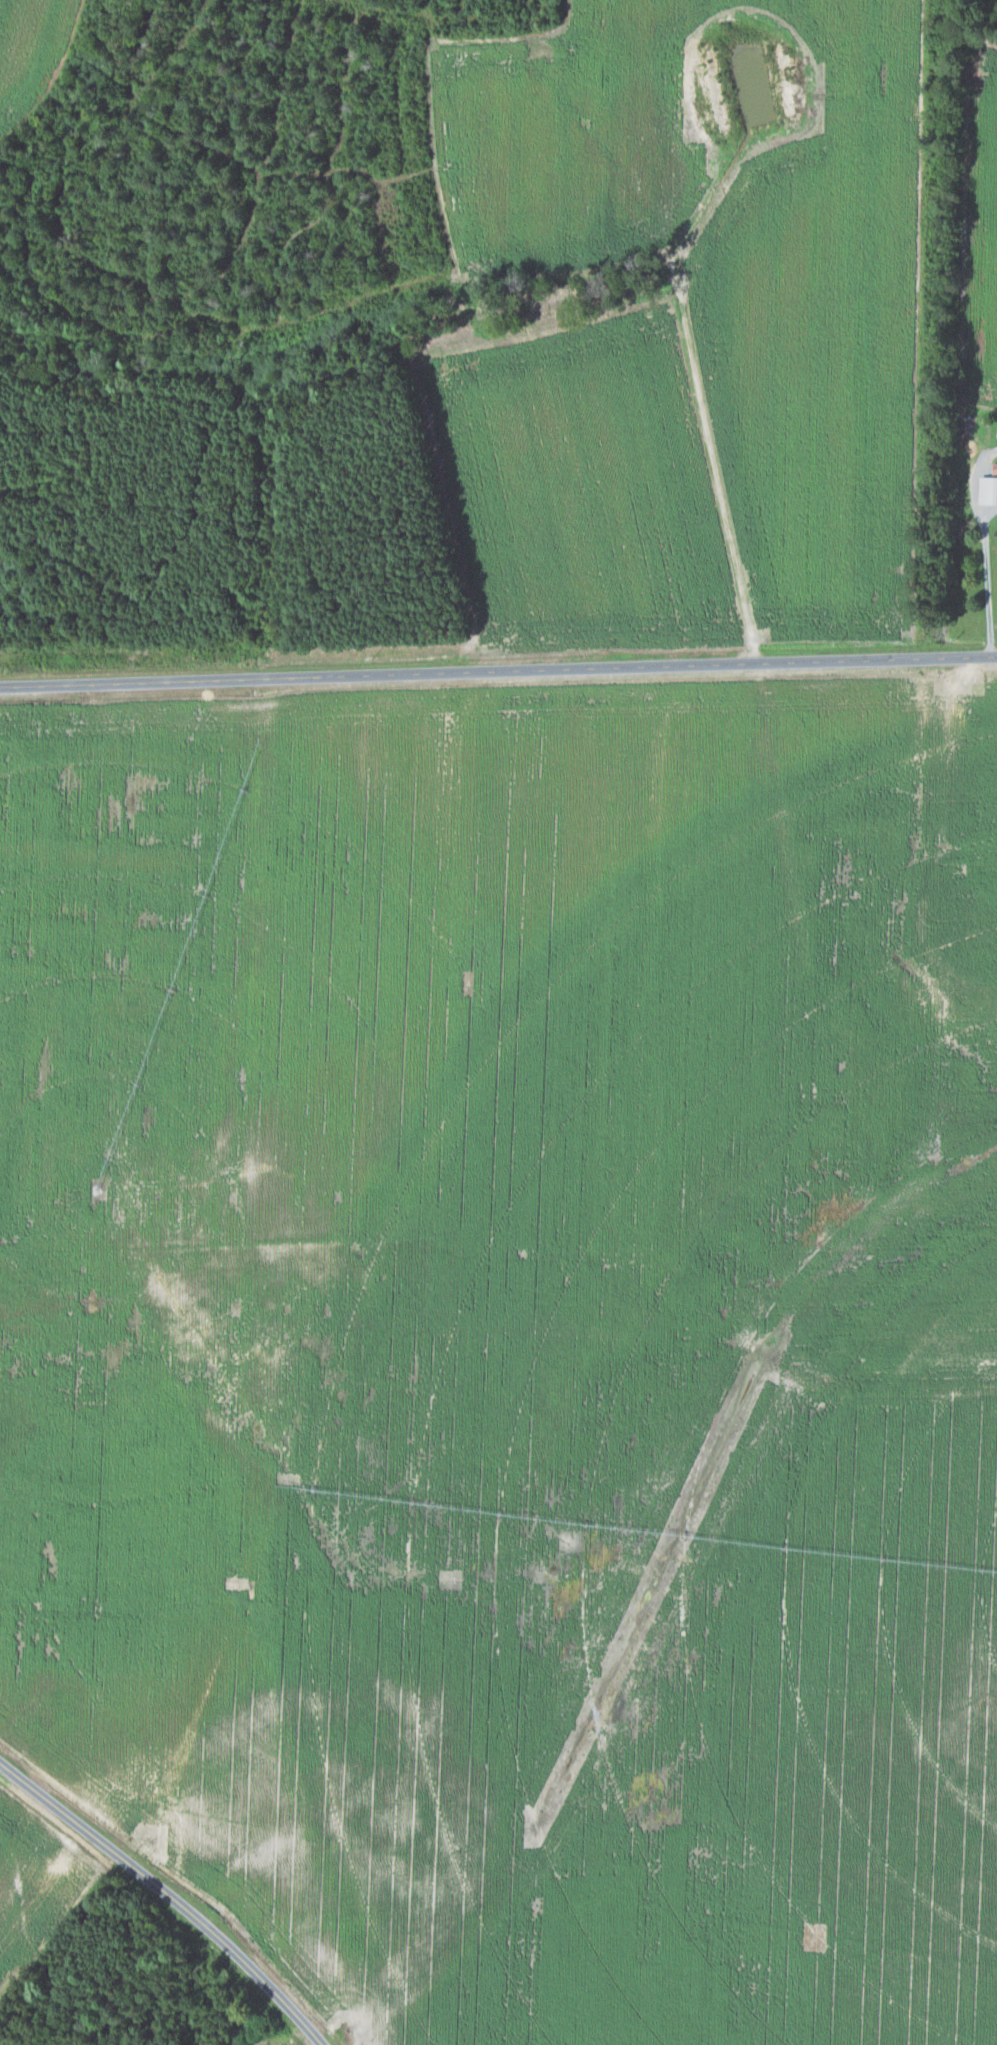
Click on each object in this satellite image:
building: (987, 489)
road: (498, 665)
road: (167, 1894)

